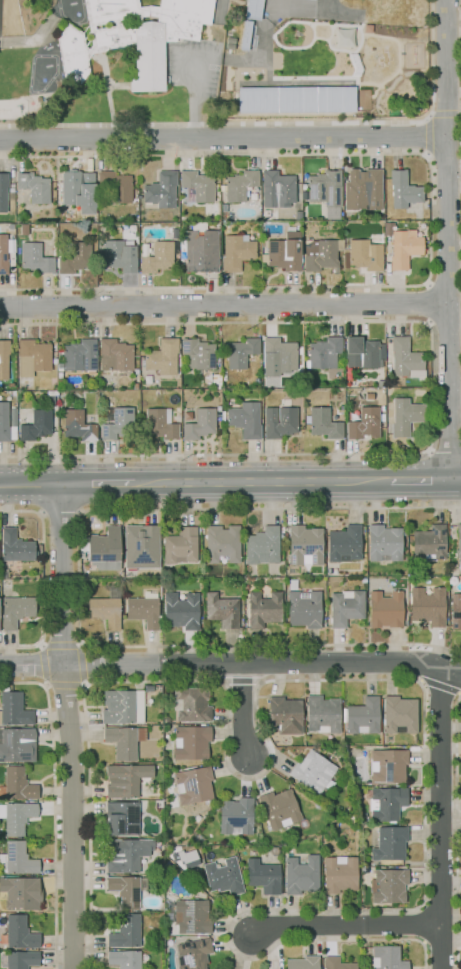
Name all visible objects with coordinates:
building: (252, 6)
building: (133, 36)
road: (32, 38)
parking lot: (192, 66)
road: (193, 97)
building: (295, 99)
road: (445, 114)
road: (273, 123)
road: (426, 135)
road: (221, 137)
road: (444, 158)
building: (239, 185)
building: (116, 186)
building: (34, 187)
building: (196, 187)
building: (364, 187)
building: (75, 188)
building: (276, 189)
building: (402, 190)
building: (325, 191)
building: (5, 192)
building: (158, 192)
building: (298, 195)
building: (223, 207)
building: (213, 209)
building: (229, 216)
building: (267, 216)
building: (66, 217)
road: (430, 218)
building: (11, 226)
building: (183, 226)
building: (387, 228)
building: (24, 229)
building: (372, 235)
road: (445, 239)
building: (12, 240)
building: (403, 248)
building: (200, 249)
building: (236, 252)
building: (283, 252)
building: (3, 254)
building: (320, 254)
building: (119, 255)
building: (364, 255)
building: (37, 257)
building: (159, 257)
building: (75, 258)
road: (443, 283)
road: (427, 302)
road: (223, 305)
road: (445, 333)
building: (60, 351)
building: (240, 352)
building: (323, 352)
building: (361, 353)
building: (199, 354)
building: (280, 354)
building: (116, 356)
building: (33, 357)
building: (78, 357)
building: (162, 357)
building: (405, 357)
building: (4, 359)
building: (54, 360)
building: (215, 381)
building: (104, 383)
road: (431, 387)
building: (111, 392)
building: (51, 397)
building: (299, 407)
building: (381, 409)
building: (219, 411)
building: (222, 416)
building: (405, 416)
building: (245, 419)
building: (279, 420)
building: (7, 422)
building: (118, 423)
building: (323, 423)
building: (35, 424)
building: (201, 424)
building: (363, 424)
building: (78, 425)
building: (160, 425)
road: (443, 454)
road: (419, 479)
road: (454, 479)
road: (262, 480)
road: (97, 482)
road: (30, 483)
road: (310, 509)
road: (59, 514)
road: (77, 539)
building: (458, 541)
building: (222, 542)
building: (429, 542)
building: (383, 543)
building: (344, 544)
building: (180, 545)
building: (262, 545)
building: (304, 545)
building: (15, 546)
building: (141, 546)
building: (104, 548)
road: (43, 579)
building: (428, 605)
building: (303, 607)
building: (107, 608)
building: (345, 608)
building: (385, 608)
building: (221, 609)
building: (263, 609)
building: (16, 610)
building: (143, 610)
building: (181, 610)
building: (455, 610)
road: (62, 644)
road: (272, 644)
road: (311, 662)
road: (41, 664)
road: (79, 664)
road: (84, 665)
road: (242, 680)
road: (440, 686)
road: (227, 695)
building: (191, 703)
building: (122, 706)
building: (14, 709)
road: (242, 713)
building: (323, 714)
building: (399, 714)
building: (284, 715)
building: (362, 716)
road: (68, 725)
building: (124, 741)
building: (191, 741)
building: (17, 744)
building: (388, 765)
building: (312, 771)
building: (125, 780)
building: (17, 784)
building: (193, 784)
building: (386, 803)
road: (53, 804)
building: (279, 808)
building: (236, 815)
building: (16, 816)
building: (122, 818)
road: (440, 818)
road: (456, 832)
building: (389, 843)
building: (127, 854)
building: (184, 857)
building: (17, 859)
building: (301, 874)
building: (339, 874)
building: (223, 876)
building: (263, 876)
building: (388, 884)
building: (126, 890)
building: (21, 893)
road: (276, 910)
building: (191, 915)
road: (344, 925)
building: (126, 931)
building: (20, 932)
building: (193, 953)
building: (387, 957)
building: (19, 959)
building: (124, 959)
building: (302, 962)
building: (337, 963)

